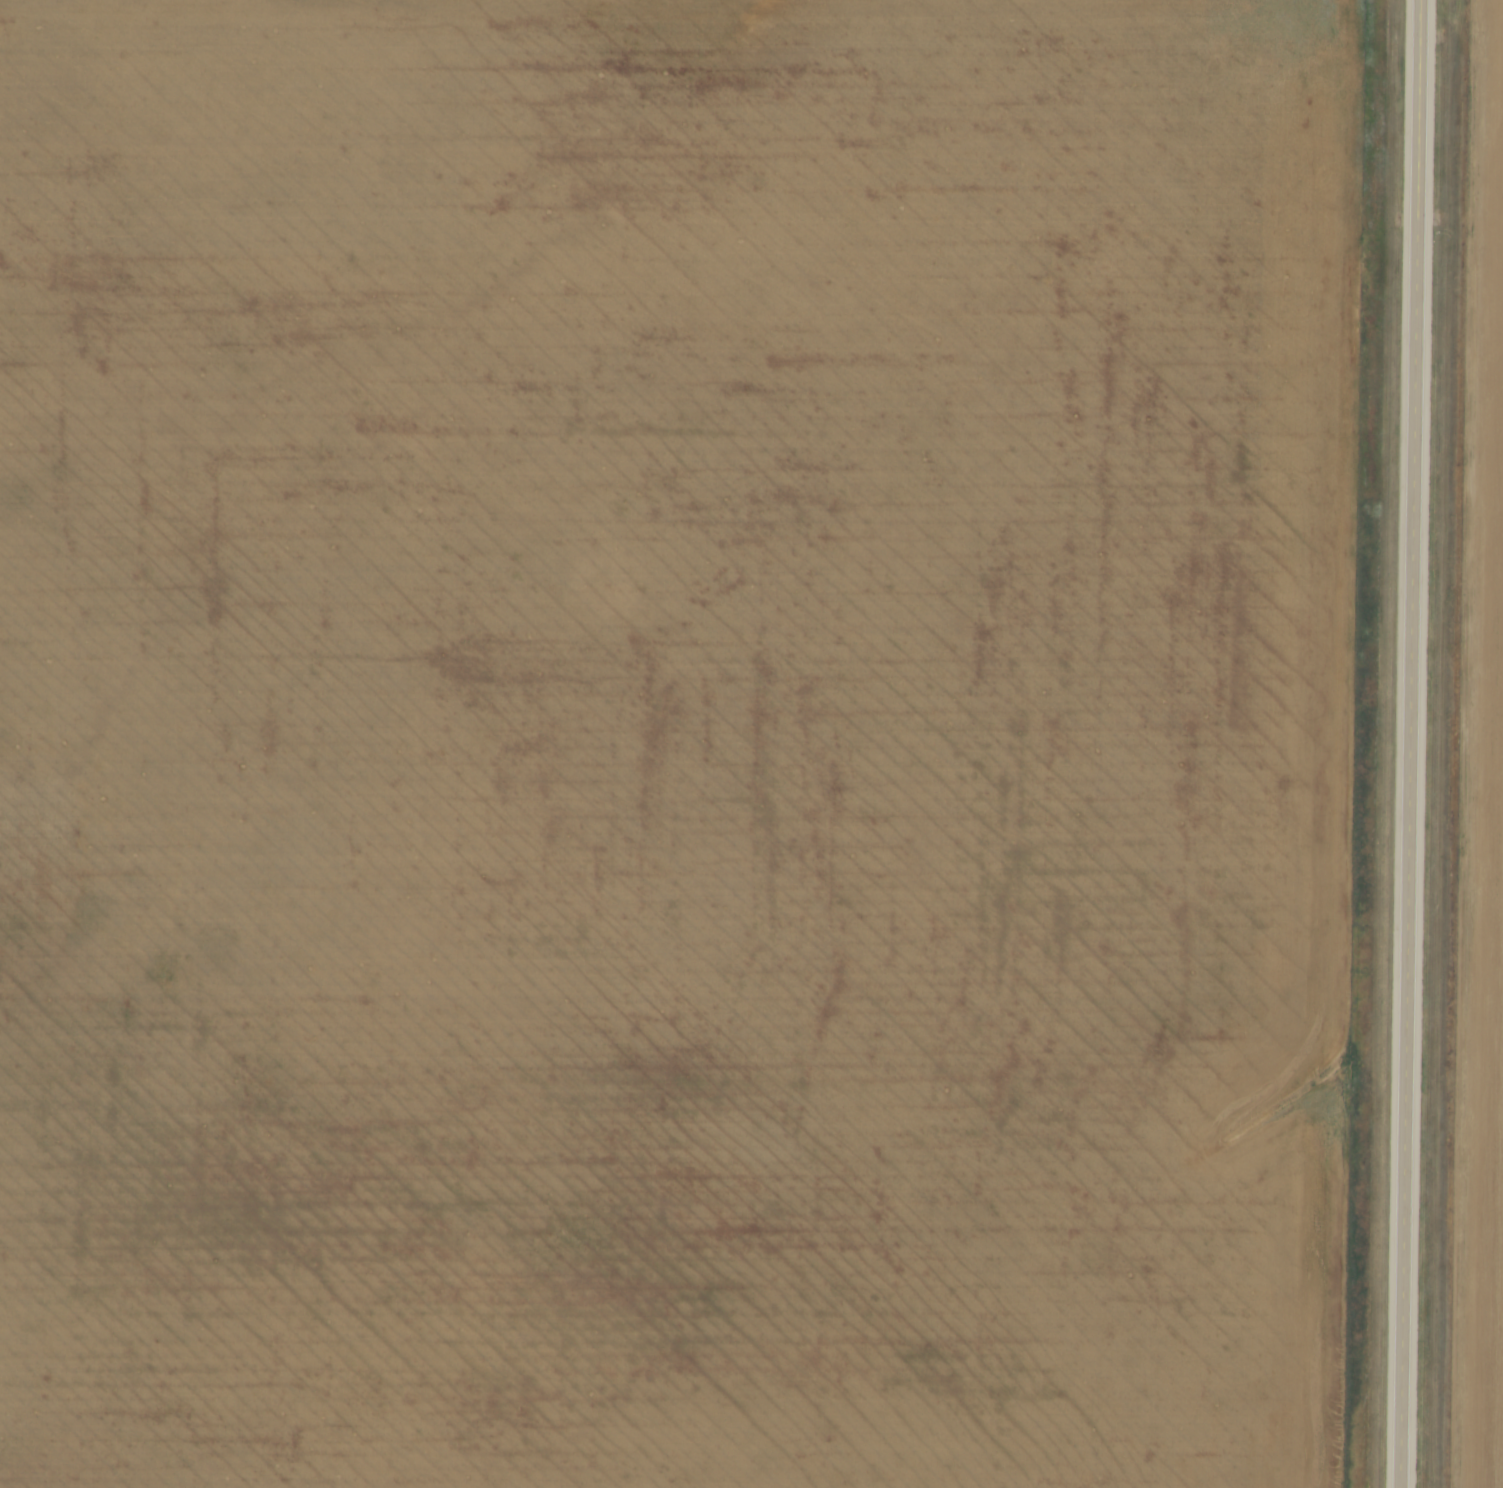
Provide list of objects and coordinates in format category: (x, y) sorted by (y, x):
road: (1404, 743)

